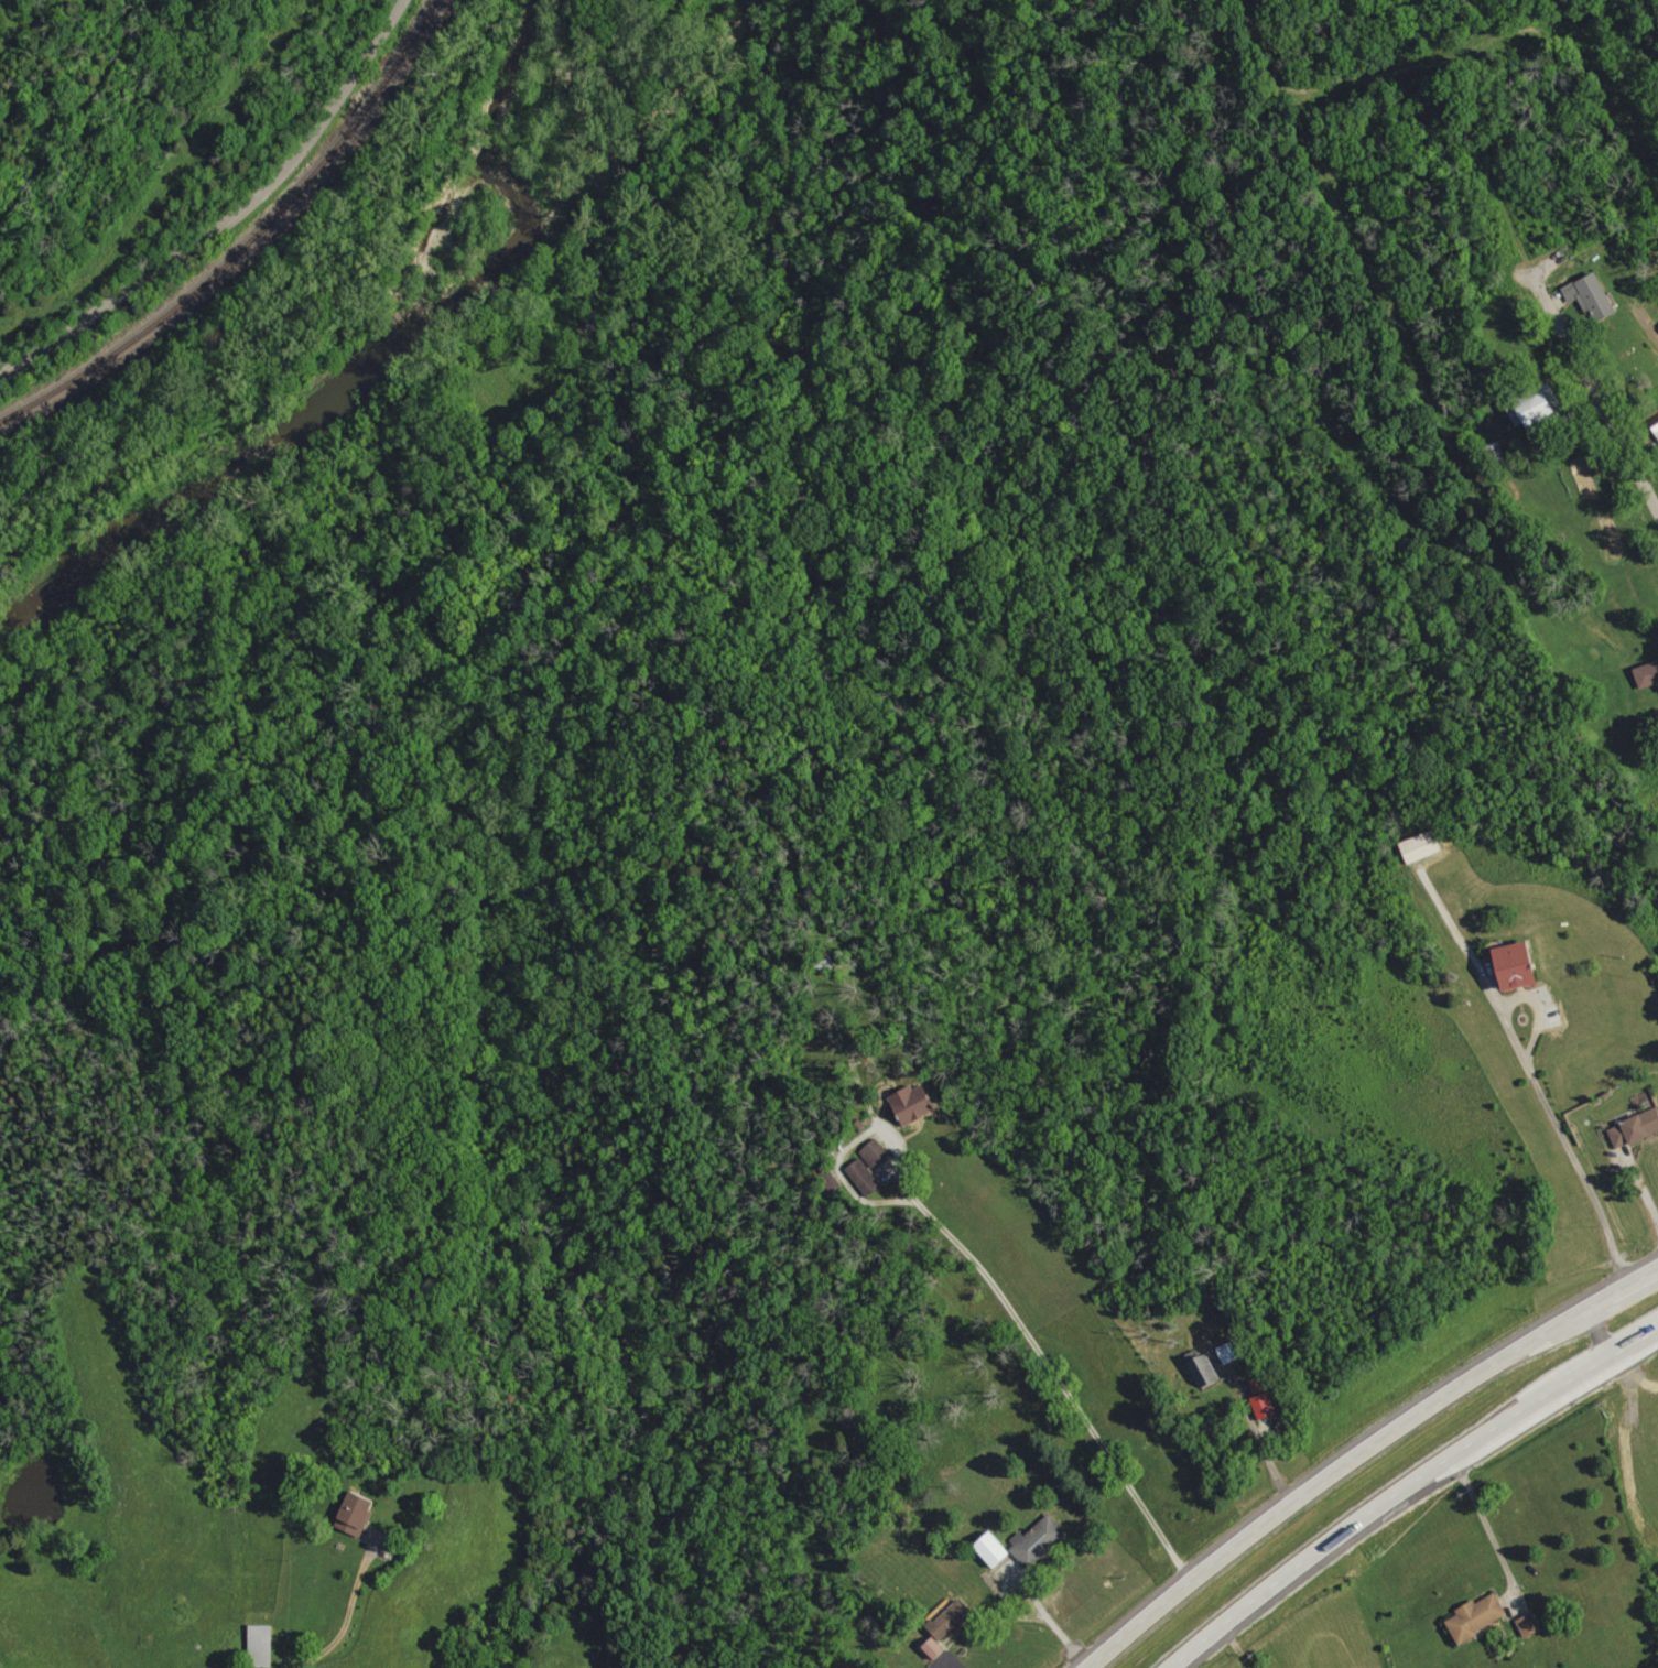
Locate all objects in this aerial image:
road: (226, 213)
railway: (243, 235)
building: (1593, 295)
road: (1604, 398)
building: (1537, 410)
building: (1648, 674)
building: (1422, 846)
building: (1521, 966)
building: (915, 1104)
road: (1563, 1128)
building: (1635, 1129)
building: (875, 1152)
building: (864, 1178)
road: (1644, 1185)
road: (1592, 1335)
building: (1232, 1352)
road: (1605, 1357)
road: (1053, 1369)
building: (1204, 1372)
road: (1632, 1376)
building: (1261, 1398)
road: (1255, 1430)
road: (1363, 1450)
building: (358, 1513)
road: (1359, 1523)
road: (1489, 1530)
building: (1039, 1539)
building: (994, 1548)
road: (359, 1611)
building: (1478, 1615)
road: (1053, 1617)
building: (952, 1620)
building: (1531, 1624)
building: (262, 1645)
building: (935, 1647)
road: (1238, 1647)

